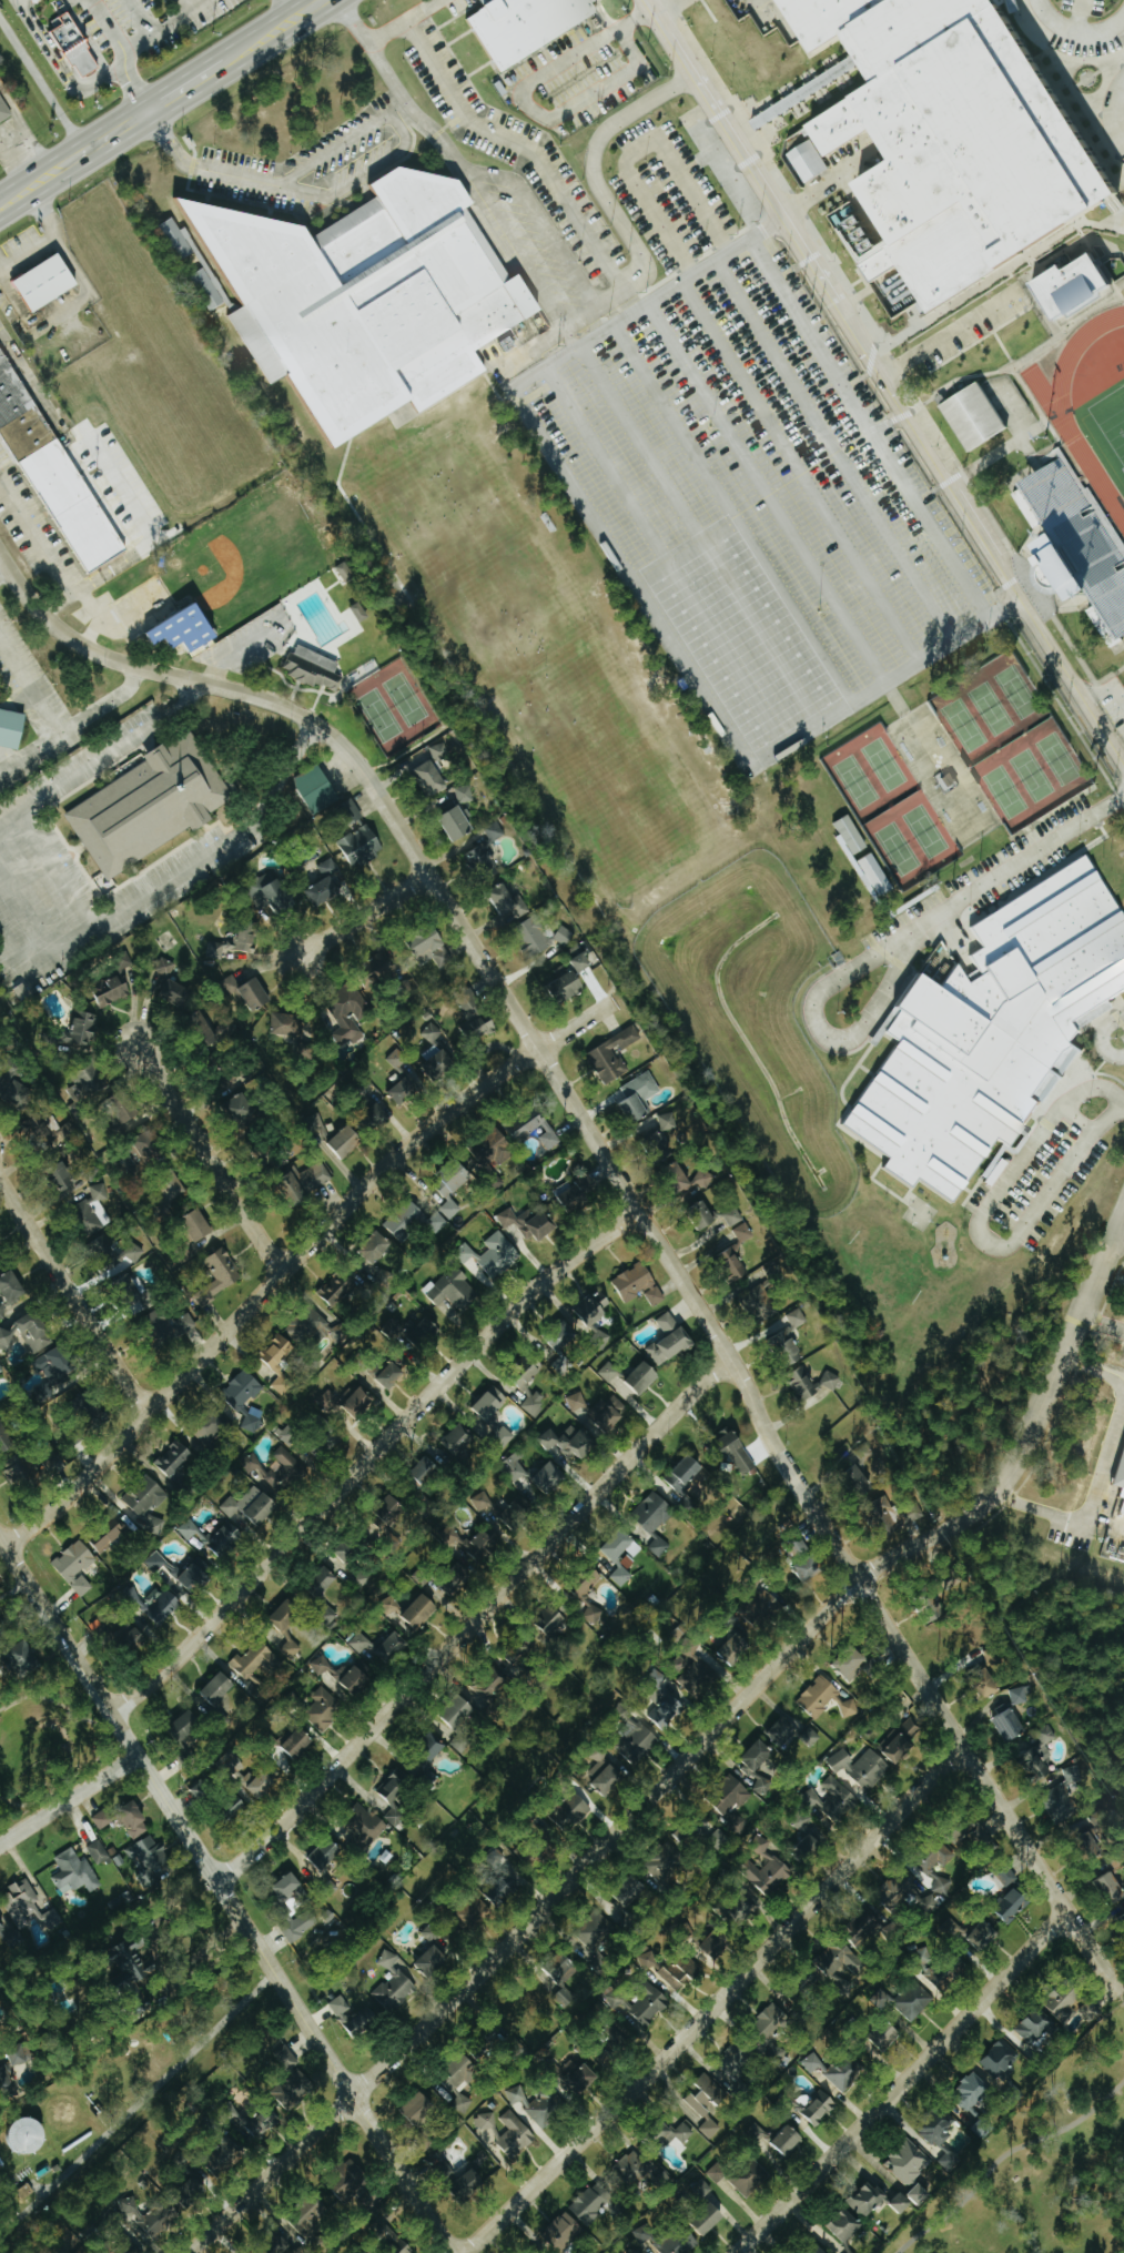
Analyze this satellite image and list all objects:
road: (287, 2)
road: (188, 4)
road: (660, 6)
road: (421, 9)
road: (325, 13)
road: (777, 13)
road: (145, 16)
road: (296, 16)
building: (523, 26)
building: (99, 28)
road: (160, 29)
road: (1072, 36)
road: (282, 41)
building: (75, 43)
road: (39, 78)
road: (83, 85)
road: (398, 91)
road: (148, 94)
road: (529, 107)
building: (4, 109)
road: (149, 125)
road: (499, 135)
building: (954, 137)
road: (404, 138)
parking lot: (510, 149)
road: (638, 149)
road: (88, 151)
road: (209, 168)
road: (32, 185)
parking lot: (667, 193)
road: (6, 208)
road: (20, 210)
road: (540, 223)
road: (626, 231)
building: (171, 239)
road: (48, 244)
road: (513, 252)
building: (49, 282)
building: (1070, 285)
building: (201, 289)
building: (364, 296)
road: (946, 333)
road: (569, 340)
road: (884, 382)
building: (969, 416)
track: (1059, 416)
park: (1111, 418)
road: (885, 422)
road: (867, 428)
road: (1004, 448)
stadium: (1074, 456)
road: (88, 465)
building: (52, 468)
parking lot: (753, 501)
road: (42, 529)
building: (1074, 543)
road: (6, 570)
building: (347, 572)
road: (627, 576)
road: (64, 599)
building: (361, 612)
building: (190, 629)
road: (441, 648)
park: (541, 658)
building: (315, 668)
building: (12, 728)
road: (59, 728)
road: (421, 740)
park: (1010, 741)
building: (442, 751)
road: (104, 758)
building: (433, 778)
building: (945, 780)
building: (318, 789)
building: (465, 794)
building: (151, 806)
park: (889, 806)
building: (351, 812)
building: (458, 824)
building: (495, 831)
building: (362, 846)
building: (480, 859)
road: (59, 865)
road: (1013, 872)
road: (172, 876)
building: (869, 876)
building: (330, 882)
building: (281, 897)
building: (509, 901)
road: (363, 915)
building: (543, 936)
building: (234, 944)
building: (435, 948)
building: (575, 952)
building: (584, 962)
building: (164, 968)
road: (497, 984)
building: (568, 986)
building: (112, 992)
building: (249, 992)
building: (178, 993)
building: (350, 1016)
building: (476, 1019)
building: (287, 1024)
building: (989, 1029)
building: (82, 1030)
building: (432, 1032)
road: (831, 1032)
road: (1103, 1034)
building: (436, 1062)
building: (608, 1063)
building: (88, 1085)
building: (408, 1087)
building: (19, 1097)
building: (640, 1097)
road: (1121, 1103)
building: (241, 1111)
building: (130, 1115)
building: (377, 1115)
building: (668, 1122)
building: (59, 1132)
building: (347, 1141)
building: (151, 1148)
building: (499, 1149)
road: (210, 1160)
building: (990, 1170)
building: (690, 1176)
building: (63, 1178)
building: (306, 1182)
building: (454, 1188)
building: (576, 1193)
building: (94, 1210)
building: (703, 1212)
building: (735, 1216)
building: (529, 1222)
building: (417, 1223)
road: (979, 1230)
road: (1116, 1242)
building: (377, 1247)
building: (118, 1251)
building: (493, 1254)
road: (293, 1259)
building: (0, 1263)
building: (220, 1275)
building: (635, 1281)
building: (336, 1287)
building: (455, 1289)
building: (11, 1291)
building: (657, 1295)
road: (72, 1297)
building: (761, 1300)
building: (593, 1311)
building: (172, 1322)
road: (1101, 1325)
building: (30, 1332)
building: (426, 1334)
building: (789, 1335)
building: (301, 1338)
building: (658, 1357)
building: (59, 1367)
building: (1, 1368)
building: (531, 1370)
building: (610, 1372)
road: (1097, 1372)
building: (391, 1373)
building: (818, 1385)
building: (243, 1388)
building: (345, 1402)
building: (493, 1403)
building: (536, 1403)
building: (579, 1403)
building: (611, 1412)
building: (213, 1429)
building: (288, 1434)
building: (506, 1434)
building: (458, 1438)
building: (573, 1442)
building: (740, 1453)
road: (369, 1456)
building: (174, 1457)
building: (52, 1463)
building: (428, 1467)
building: (516, 1467)
building: (283, 1471)
building: (687, 1472)
building: (1118, 1472)
building: (22, 1473)
building: (549, 1477)
building: (858, 1477)
building: (146, 1495)
building: (482, 1501)
building: (252, 1504)
road: (1091, 1507)
building: (393, 1509)
building: (891, 1511)
building: (655, 1512)
building: (516, 1514)
building: (154, 1524)
building: (189, 1529)
building: (113, 1537)
building: (226, 1539)
building: (483, 1546)
building: (660, 1546)
building: (801, 1547)
building: (348, 1550)
building: (622, 1554)
building: (161, 1563)
building: (78, 1565)
building: (811, 1567)
building: (196, 1577)
building: (361, 1577)
building: (324, 1580)
building: (163, 1605)
building: (391, 1606)
building: (764, 1606)
building: (422, 1610)
road: (474, 1618)
building: (554, 1619)
building: (1, 1623)
building: (288, 1626)
building: (138, 1635)
building: (382, 1647)
building: (738, 1648)
building: (995, 1656)
building: (26, 1659)
building: (253, 1659)
building: (852, 1664)
road: (771, 1666)
building: (344, 1674)
building: (701, 1677)
building: (990, 1685)
building: (220, 1689)
building: (1021, 1695)
building: (827, 1698)
building: (324, 1709)
building: (666, 1709)
building: (459, 1711)
building: (1011, 1721)
building: (189, 1726)
building: (792, 1734)
building: (902, 1740)
building: (301, 1741)
building: (639, 1744)
building: (1037, 1764)
building: (862, 1766)
building: (759, 1767)
building: (606, 1776)
building: (1121, 1781)
building: (263, 1785)
road: (988, 1787)
building: (202, 1790)
park: (1116, 1791)
building: (395, 1794)
building: (732, 1796)
building: (845, 1797)
road: (69, 1798)
building: (240, 1805)
building: (575, 1812)
building: (103, 1819)
building: (134, 1820)
building: (738, 1823)
building: (367, 1828)
building: (976, 1832)
building: (808, 1837)
building: (686, 1838)
building: (719, 1839)
building: (99, 1852)
building: (327, 1852)
building: (527, 1852)
building: (149, 1861)
building: (667, 1866)
building: (766, 1868)
building: (75, 1872)
building: (1006, 1875)
building: (936, 1876)
building: (290, 1886)
building: (504, 1886)
building: (1113, 1886)
building: (893, 1890)
building: (630, 1891)
road: (226, 1895)
building: (1016, 1899)
building: (30, 1906)
building: (749, 1909)
building: (474, 1912)
building: (2, 1924)
building: (301, 1926)
building: (894, 1929)
building: (595, 1930)
building: (985, 1933)
building: (13, 1938)
building: (719, 1943)
building: (840, 1959)
road: (155, 1960)
building: (139, 1961)
building: (435, 1961)
building: (648, 1961)
park: (1123, 1961)
building: (681, 1972)
building: (935, 1980)
building: (394, 1984)
building: (565, 1997)
road: (712, 1999)
building: (1065, 1999)
building: (908, 2001)
building: (646, 2004)
building: (357, 2019)
building: (1039, 2027)
building: (0, 2044)
building: (284, 2058)
building: (24, 2059)
building: (1001, 2060)
building: (738, 2065)
building: (464, 2071)
building: (6, 2077)
building: (580, 2077)
road: (901, 2083)
road: (150, 2091)
building: (296, 2091)
building: (973, 2092)
building: (463, 2102)
building: (708, 2102)
building: (538, 2105)
building: (419, 2106)
building: (820, 2108)
building: (257, 2121)
building: (487, 2121)
building: (681, 2132)
building: (516, 2134)
building: (29, 2135)
building: (778, 2138)
building: (944, 2141)
road: (1004, 2158)
building: (909, 2164)
park: (1040, 2166)
building: (644, 2172)
road: (271, 2174)
building: (751, 2178)
building: (351, 2180)
building: (472, 2183)
building: (888, 2200)
building: (593, 2201)
building: (145, 2217)
building: (710, 2217)
building: (847, 2225)
building: (564, 2231)
building: (666, 2240)
building: (395, 2241)
building: (820, 2250)
building: (852, 2252)

